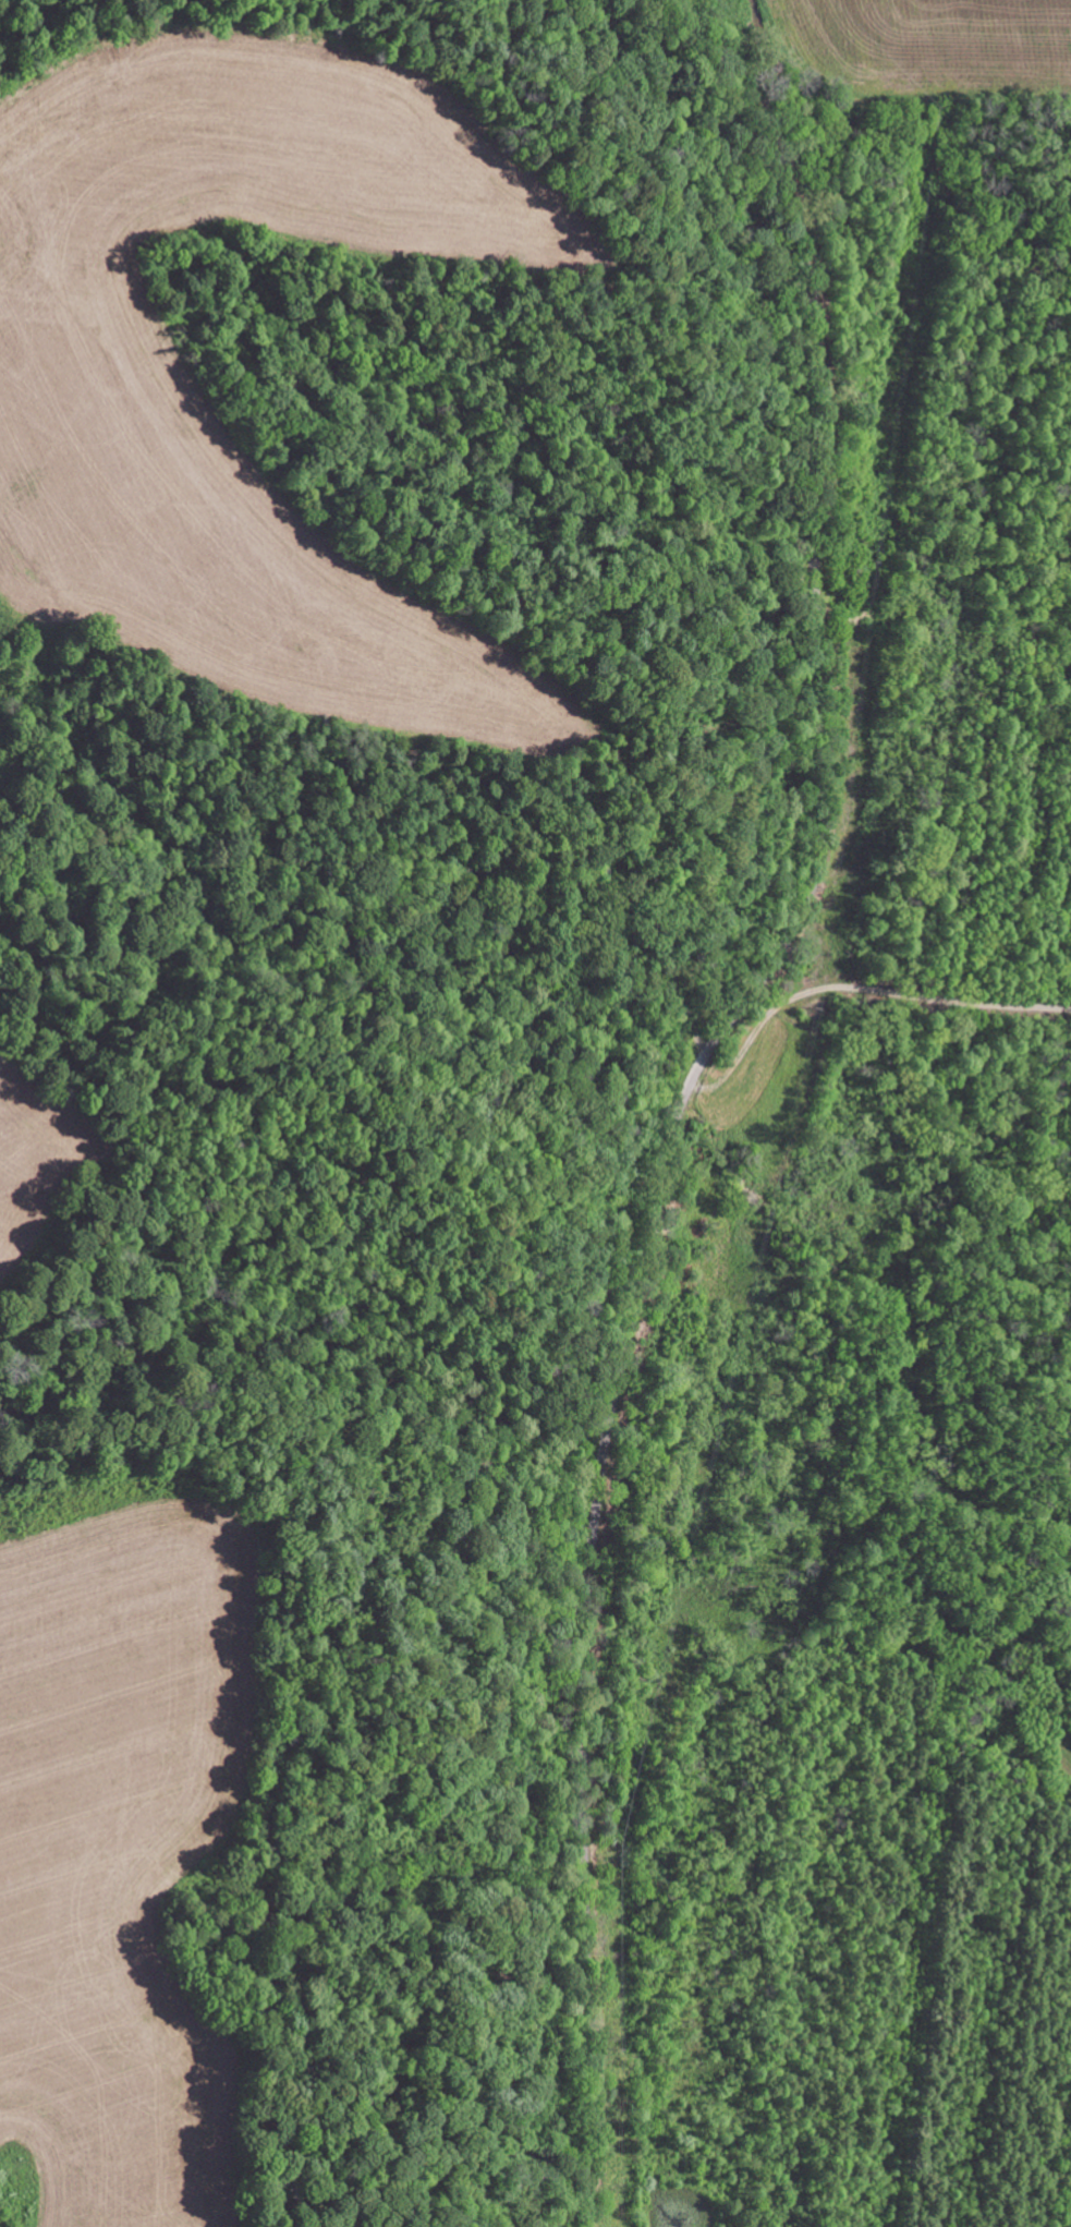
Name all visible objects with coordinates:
road: (693, 1080)

